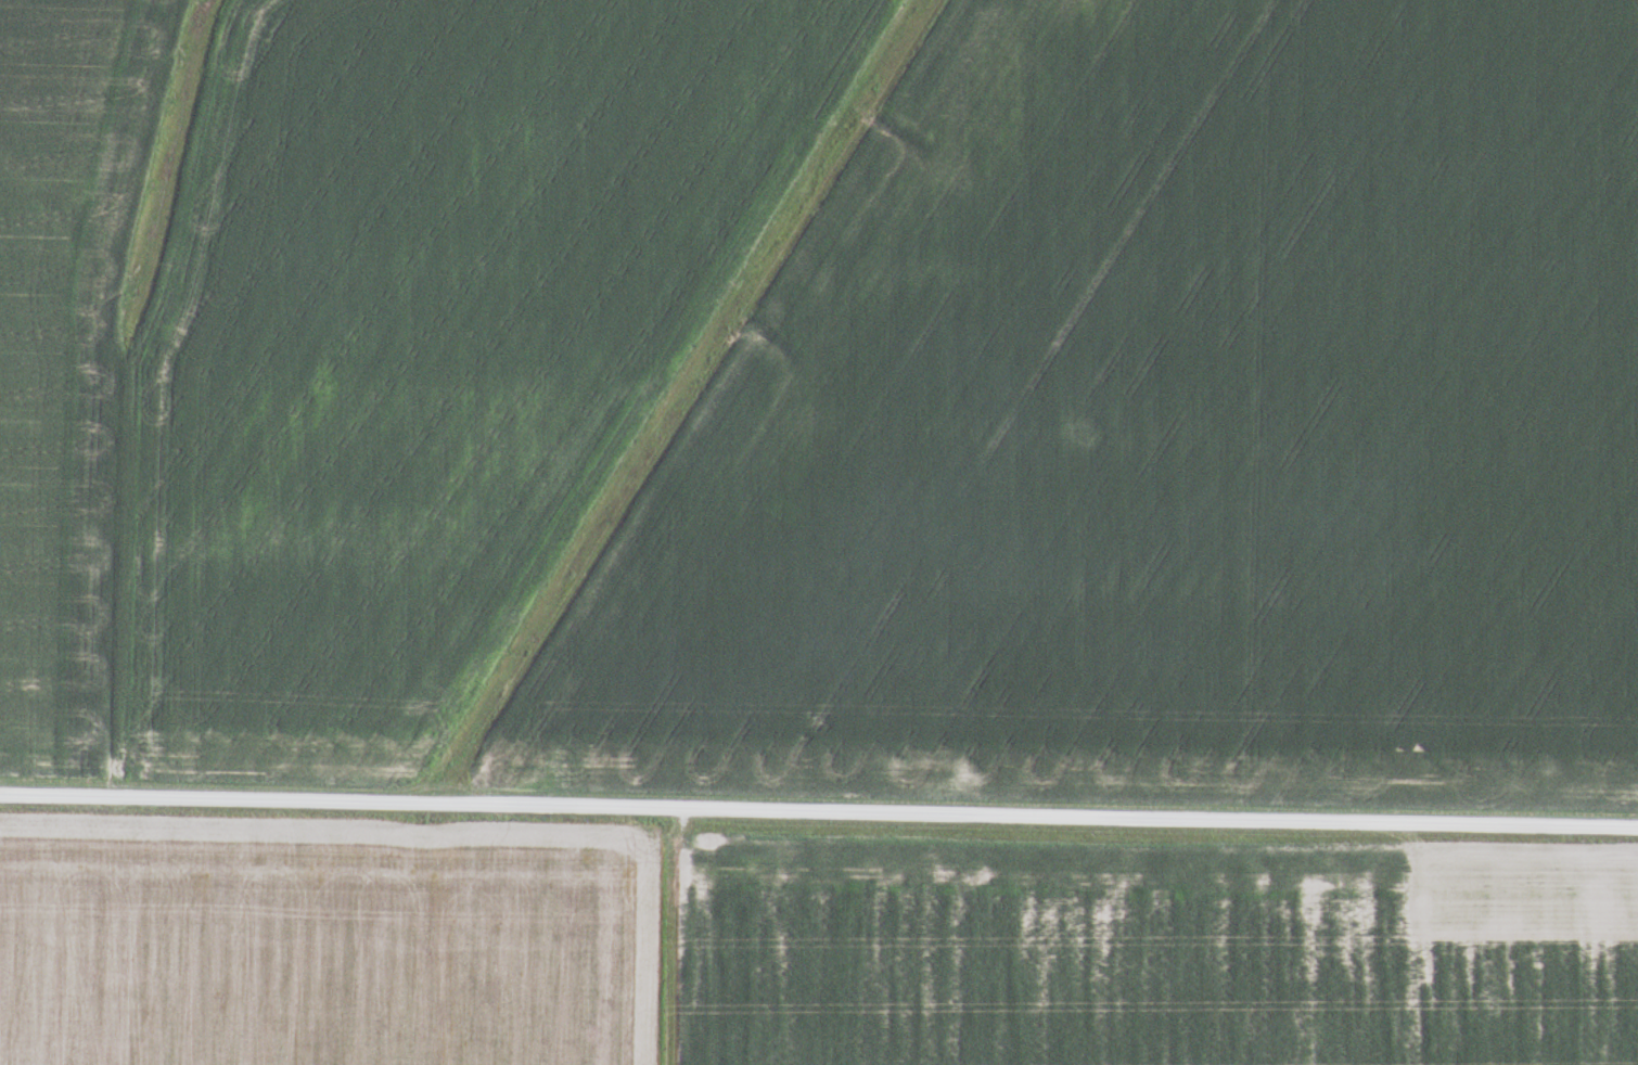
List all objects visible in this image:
road: (818, 813)

